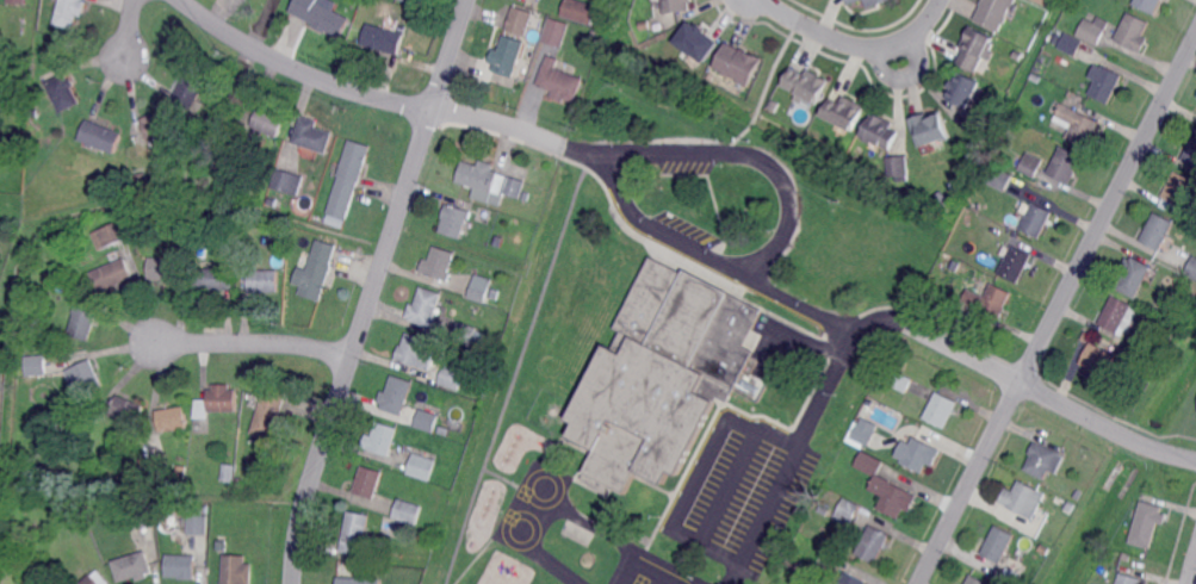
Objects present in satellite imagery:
building: (415, 1)
building: (850, 1)
building: (16, 2)
building: (870, 2)
building: (1042, 2)
building: (1148, 5)
building: (674, 6)
road: (773, 7)
building: (68, 12)
building: (580, 12)
building: (992, 13)
building: (323, 15)
building: (519, 20)
building: (642, 25)
road: (131, 29)
building: (1093, 30)
building: (1133, 33)
building: (556, 35)
building: (595, 35)
building: (383, 39)
building: (1055, 39)
building: (695, 41)
building: (1070, 45)
building: (972, 48)
road: (865, 49)
building: (1016, 55)
building: (507, 56)
building: (735, 63)
road: (907, 76)
building: (558, 82)
building: (803, 85)
building: (1105, 85)
building: (960, 89)
building: (191, 91)
road: (366, 91)
building: (63, 93)
building: (774, 106)
building: (839, 112)
building: (271, 120)
building: (975, 124)
building: (1079, 124)
building: (159, 125)
building: (925, 129)
building: (878, 131)
building: (314, 135)
building: (101, 136)
building: (242, 142)
road: (636, 147)
building: (1191, 153)
building: (1031, 164)
building: (1065, 164)
parking lot: (687, 166)
building: (896, 167)
building: (141, 176)
building: (348, 178)
building: (998, 178)
building: (956, 180)
building: (289, 181)
building: (488, 181)
building: (101, 190)
building: (1178, 191)
building: (523, 193)
road: (1108, 207)
building: (1036, 219)
building: (454, 220)
parking lot: (686, 228)
building: (1158, 230)
building: (113, 235)
building: (502, 241)
building: (242, 244)
building: (440, 263)
building: (1014, 265)
building: (82, 267)
building: (165, 268)
building: (1192, 268)
building: (318, 271)
building: (113, 274)
building: (1134, 275)
road: (713, 277)
building: (216, 279)
building: (265, 280)
building: (482, 287)
road: (372, 291)
building: (69, 292)
building: (989, 300)
building: (426, 306)
building: (1120, 315)
building: (962, 318)
building: (83, 322)
building: (466, 335)
building: (1085, 337)
road: (255, 343)
building: (1133, 343)
building: (419, 350)
building: (1097, 359)
building: (667, 364)
building: (38, 365)
road: (514, 374)
building: (453, 375)
building: (86, 377)
building: (903, 381)
road: (1023, 381)
road: (822, 393)
building: (397, 394)
building: (224, 400)
building: (942, 409)
building: (129, 410)
building: (269, 417)
building: (174, 418)
building: (427, 420)
building: (444, 430)
building: (861, 434)
building: (380, 440)
building: (618, 454)
building: (918, 454)
building: (1045, 460)
building: (422, 465)
building: (150, 468)
road: (696, 468)
building: (230, 472)
road: (500, 476)
road: (547, 478)
building: (368, 482)
road: (969, 482)
road: (730, 484)
building: (884, 486)
parking lot: (749, 495)
building: (1078, 495)
building: (1023, 499)
building: (1070, 507)
building: (410, 511)
building: (845, 512)
building: (143, 515)
building: (198, 524)
building: (1146, 524)
building: (358, 534)
road: (618, 541)
building: (872, 541)
building: (999, 543)
building: (222, 545)
road: (528, 547)
road: (471, 560)
building: (791, 561)
building: (134, 566)
building: (181, 566)
building: (235, 570)
road: (1192, 572)
building: (1010, 574)
building: (97, 578)
building: (853, 579)
building: (1129, 579)
building: (358, 580)
building: (977, 580)
building: (38, 583)

